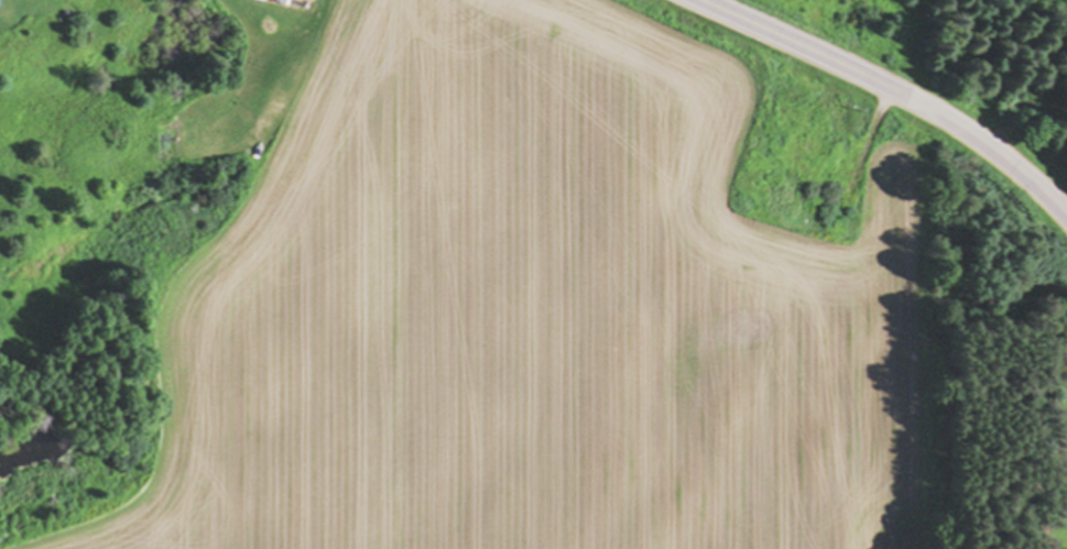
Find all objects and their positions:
road: (825, 56)
road: (1010, 165)

